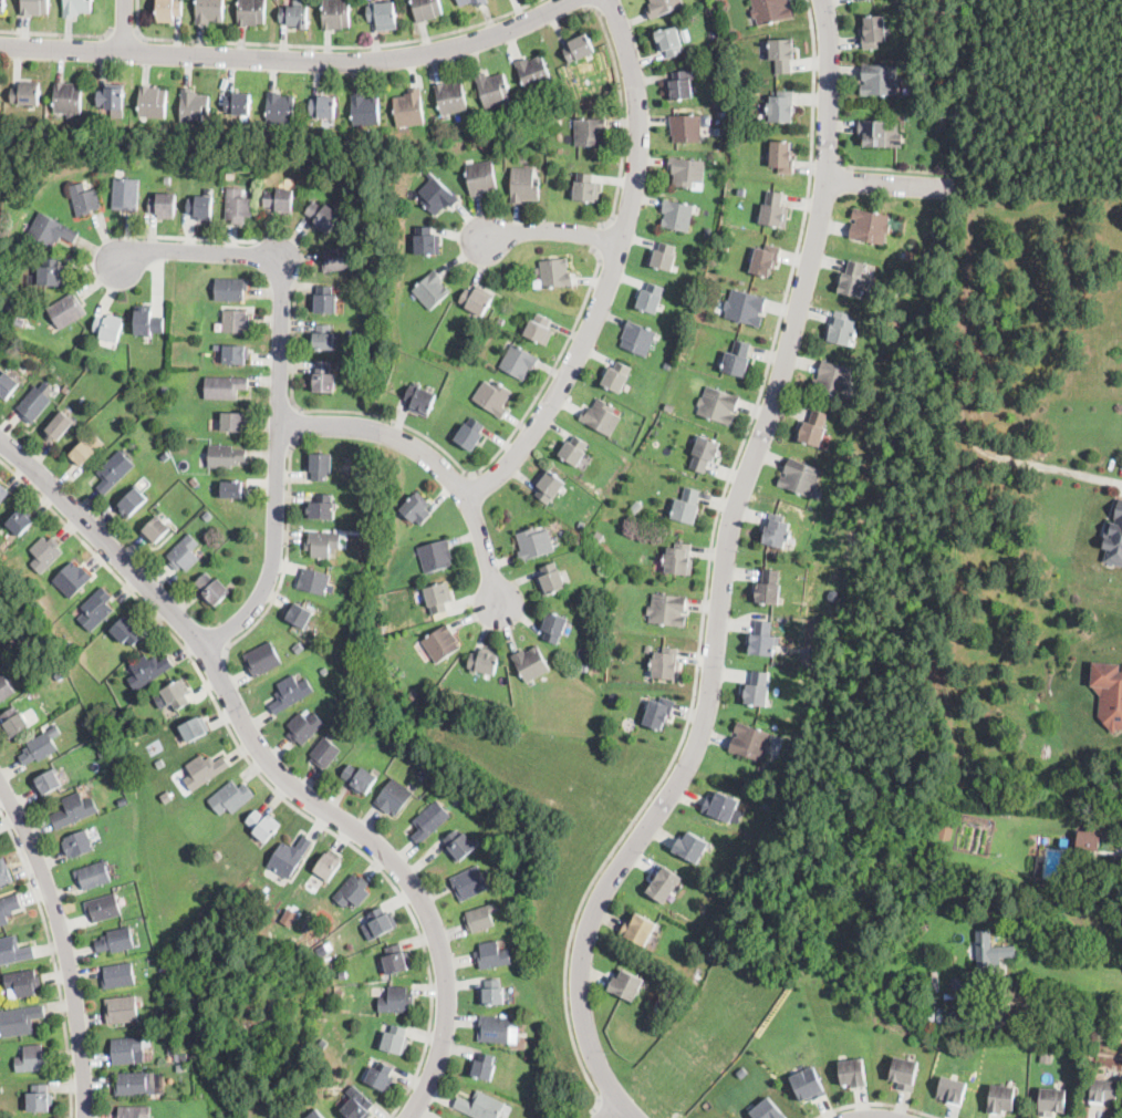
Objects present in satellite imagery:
building: (474, 2)
road: (589, 4)
building: (2, 7)
building: (35, 7)
building: (663, 7)
building: (76, 8)
building: (427, 9)
building: (169, 10)
building: (770, 10)
building: (210, 11)
building: (251, 12)
building: (336, 13)
building: (383, 15)
building: (297, 17)
road: (125, 25)
road: (124, 32)
building: (873, 32)
road: (58, 35)
building: (667, 41)
road: (325, 45)
building: (715, 48)
building: (579, 49)
building: (780, 53)
road: (291, 60)
building: (533, 73)
building: (880, 80)
building: (737, 84)
building: (679, 86)
building: (494, 90)
road: (830, 90)
building: (27, 93)
building: (67, 97)
building: (451, 97)
building: (113, 99)
building: (153, 101)
building: (239, 103)
building: (194, 106)
building: (280, 107)
building: (324, 107)
building: (780, 107)
building: (409, 108)
building: (366, 111)
building: (721, 111)
building: (928, 113)
road: (624, 116)
building: (685, 127)
building: (591, 132)
building: (873, 133)
building: (456, 137)
building: (48, 148)
building: (780, 158)
road: (828, 165)
road: (893, 170)
building: (687, 173)
building: (167, 178)
building: (480, 178)
road: (891, 184)
building: (524, 185)
building: (586, 188)
building: (740, 191)
building: (126, 194)
building: (437, 195)
building: (84, 199)
building: (280, 200)
building: (164, 206)
building: (238, 206)
building: (201, 208)
building: (773, 211)
building: (676, 215)
building: (323, 216)
building: (869, 226)
building: (51, 230)
road: (554, 230)
road: (191, 238)
road: (602, 239)
building: (426, 241)
building: (725, 247)
building: (663, 257)
building: (340, 259)
building: (765, 259)
road: (614, 268)
building: (52, 273)
building: (553, 273)
building: (853, 280)
building: (231, 289)
building: (432, 290)
building: (652, 298)
building: (325, 299)
building: (477, 300)
building: (746, 307)
building: (8, 308)
building: (67, 311)
building: (216, 313)
building: (500, 320)
building: (148, 321)
building: (20, 322)
building: (236, 322)
building: (110, 328)
building: (540, 329)
building: (841, 330)
building: (323, 338)
building: (638, 339)
building: (235, 354)
building: (736, 359)
building: (519, 362)
building: (666, 365)
building: (324, 377)
building: (619, 377)
building: (832, 380)
road: (281, 384)
building: (7, 385)
building: (66, 386)
building: (166, 387)
building: (226, 387)
building: (422, 397)
building: (494, 397)
building: (34, 404)
building: (718, 404)
building: (669, 406)
building: (602, 417)
building: (233, 422)
road: (300, 425)
building: (60, 427)
building: (812, 428)
building: (472, 435)
building: (87, 451)
building: (574, 451)
building: (704, 453)
building: (224, 456)
road: (1012, 456)
road: (453, 458)
road: (434, 459)
building: (606, 463)
building: (320, 466)
building: (114, 472)
road: (1090, 474)
building: (800, 477)
building: (551, 485)
building: (233, 490)
building: (2, 493)
building: (133, 504)
building: (685, 506)
building: (320, 507)
building: (418, 508)
building: (638, 510)
building: (207, 516)
building: (21, 521)
building: (3, 529)
building: (776, 531)
building: (157, 532)
building: (1114, 536)
building: (600, 537)
building: (581, 541)
building: (534, 542)
building: (322, 544)
building: (45, 553)
building: (185, 553)
building: (435, 556)
road: (287, 558)
building: (678, 559)
road: (708, 570)
building: (72, 579)
building: (552, 579)
building: (314, 581)
building: (768, 588)
building: (212, 589)
building: (439, 598)
building: (96, 609)
building: (667, 609)
building: (299, 614)
building: (377, 628)
building: (555, 628)
building: (127, 631)
building: (761, 640)
building: (441, 643)
building: (69, 644)
building: (298, 646)
building: (647, 646)
building: (782, 648)
building: (809, 655)
building: (262, 659)
building: (485, 661)
building: (531, 663)
building: (666, 664)
building: (582, 665)
building: (354, 666)
road: (714, 666)
road: (215, 669)
building: (324, 670)
building: (148, 671)
building: (59, 674)
building: (6, 687)
building: (757, 690)
building: (1109, 692)
building: (291, 693)
building: (775, 693)
building: (178, 694)
building: (411, 694)
building: (344, 695)
building: (658, 712)
building: (14, 723)
building: (304, 727)
building: (196, 731)
building: (750, 742)
building: (39, 748)
building: (324, 753)
building: (102, 755)
building: (160, 762)
road: (274, 767)
building: (204, 772)
road: (264, 779)
building: (361, 779)
building: (49, 783)
building: (168, 796)
building: (394, 797)
building: (231, 798)
building: (457, 798)
building: (123, 800)
building: (766, 804)
building: (720, 807)
building: (75, 810)
building: (429, 820)
building: (263, 827)
building: (945, 832)
building: (1090, 838)
building: (79, 845)
building: (459, 846)
building: (690, 848)
building: (217, 855)
building: (290, 857)
building: (1038, 863)
building: (329, 866)
building: (1107, 872)
building: (4, 873)
building: (93, 874)
building: (972, 881)
building: (470, 883)
building: (663, 884)
building: (353, 891)
building: (264, 892)
building: (104, 907)
building: (9, 908)
building: (480, 918)
building: (287, 919)
building: (383, 921)
building: (308, 928)
building: (640, 930)
building: (116, 941)
road: (65, 945)
building: (14, 951)
building: (989, 953)
building: (492, 955)
road: (53, 960)
building: (397, 960)
building: (343, 975)
building: (118, 976)
building: (22, 983)
building: (955, 983)
building: (627, 986)
building: (494, 993)
building: (337, 1000)
building: (176, 1001)
building: (397, 1001)
building: (122, 1010)
building: (972, 1015)
road: (1066, 1016)
building: (21, 1019)
building: (496, 1028)
building: (1020, 1028)
building: (396, 1038)
building: (148, 1039)
building: (323, 1043)
building: (127, 1049)
building: (179, 1056)
building: (1046, 1056)
building: (139, 1057)
building: (33, 1059)
building: (484, 1067)
building: (180, 1069)
building: (904, 1073)
building: (741, 1074)
building: (852, 1074)
building: (382, 1077)
building: (133, 1084)
building: (808, 1086)
building: (952, 1090)
building: (1104, 1090)
building: (1001, 1098)
building: (41, 1099)
building: (1052, 1100)
building: (707, 1104)
road: (877, 1104)
building: (357, 1105)
building: (481, 1106)
road: (614, 1110)
building: (767, 1110)
building: (134, 1111)
road: (606, 1111)
building: (241, 1112)
building: (319, 1115)

